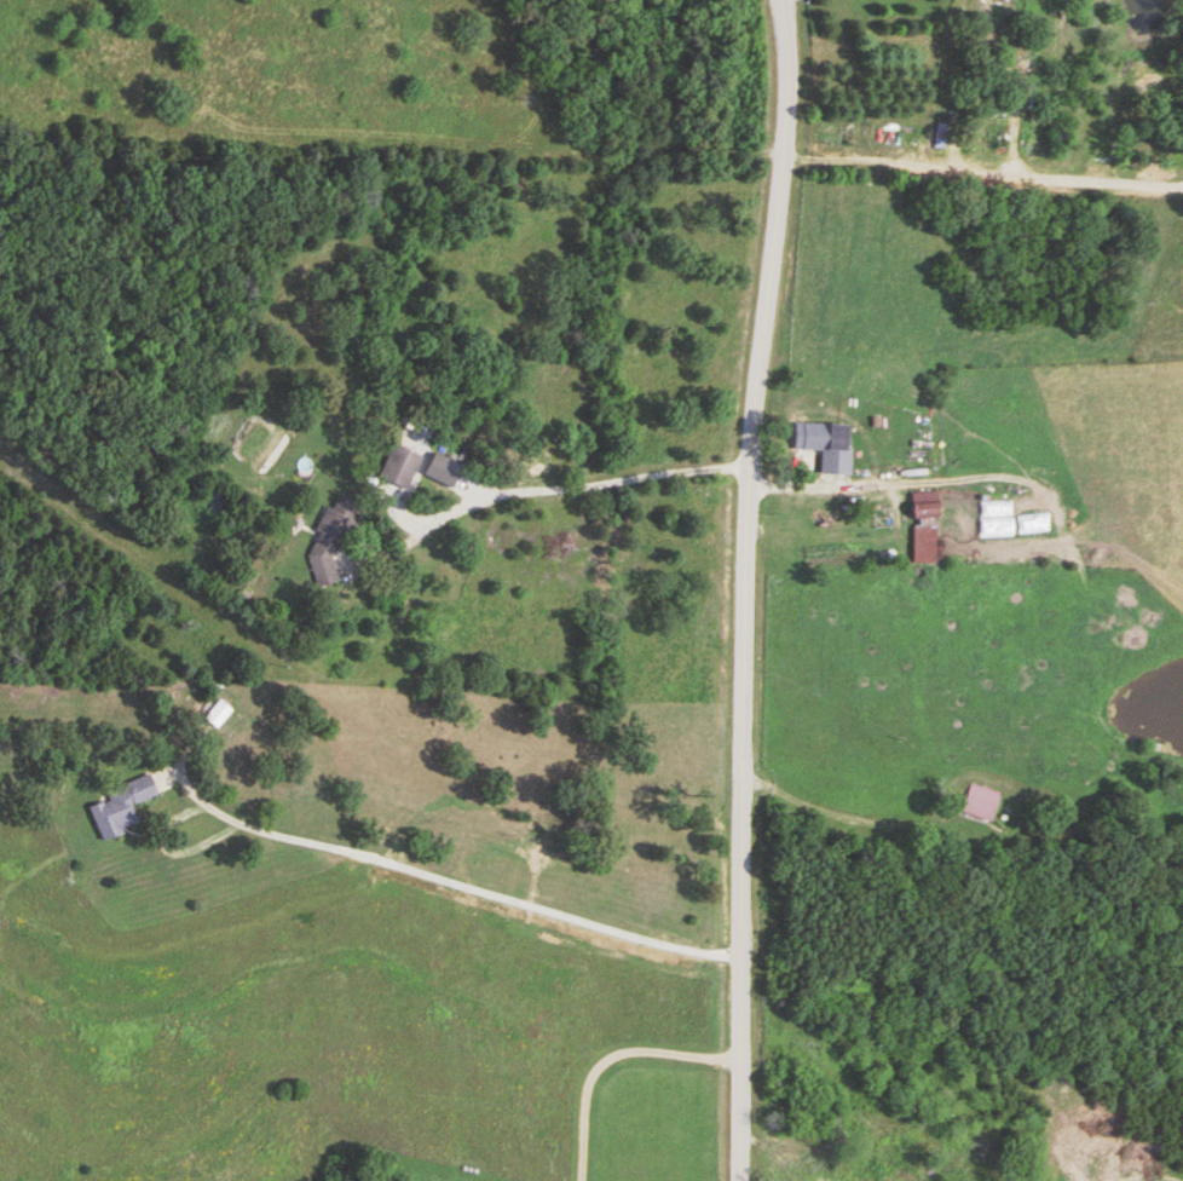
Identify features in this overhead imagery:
building: (942, 138)
building: (819, 438)
building: (402, 465)
road: (538, 488)
building: (923, 528)
building: (333, 541)
road: (744, 589)
building: (218, 714)
building: (981, 801)
building: (119, 807)
road: (826, 810)
road: (394, 862)
road: (604, 1058)

